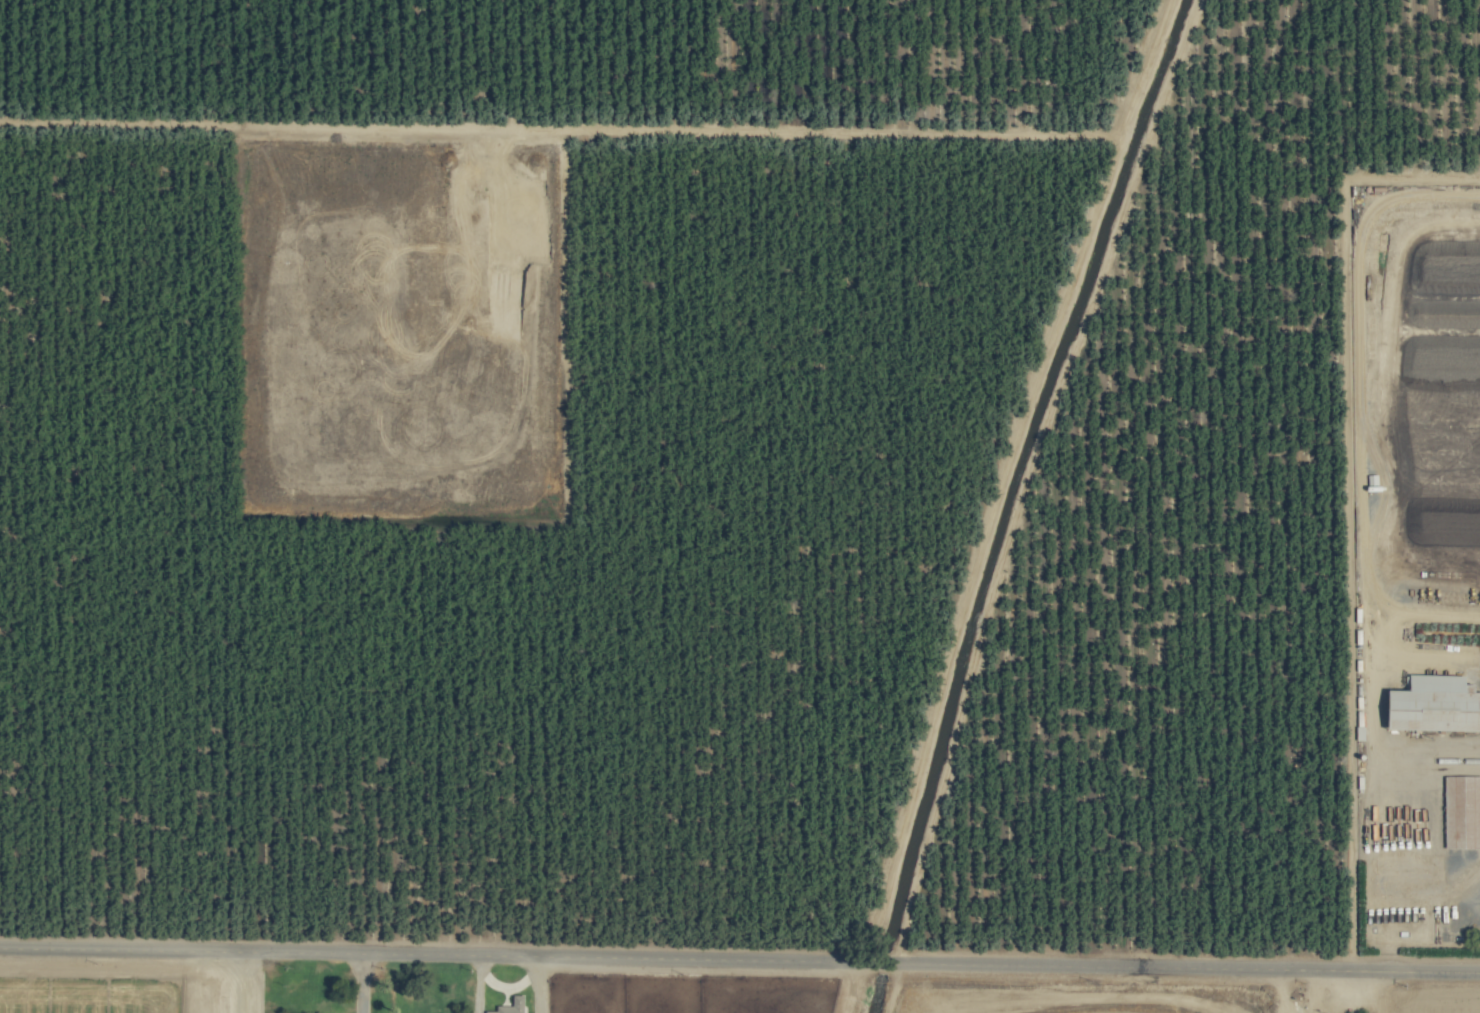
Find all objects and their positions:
crop: (740, 506)
road: (1379, 685)
building: (1437, 703)
road: (740, 955)
road: (234, 979)
road: (361, 981)
road: (480, 982)
road: (535, 982)
building: (513, 1006)

